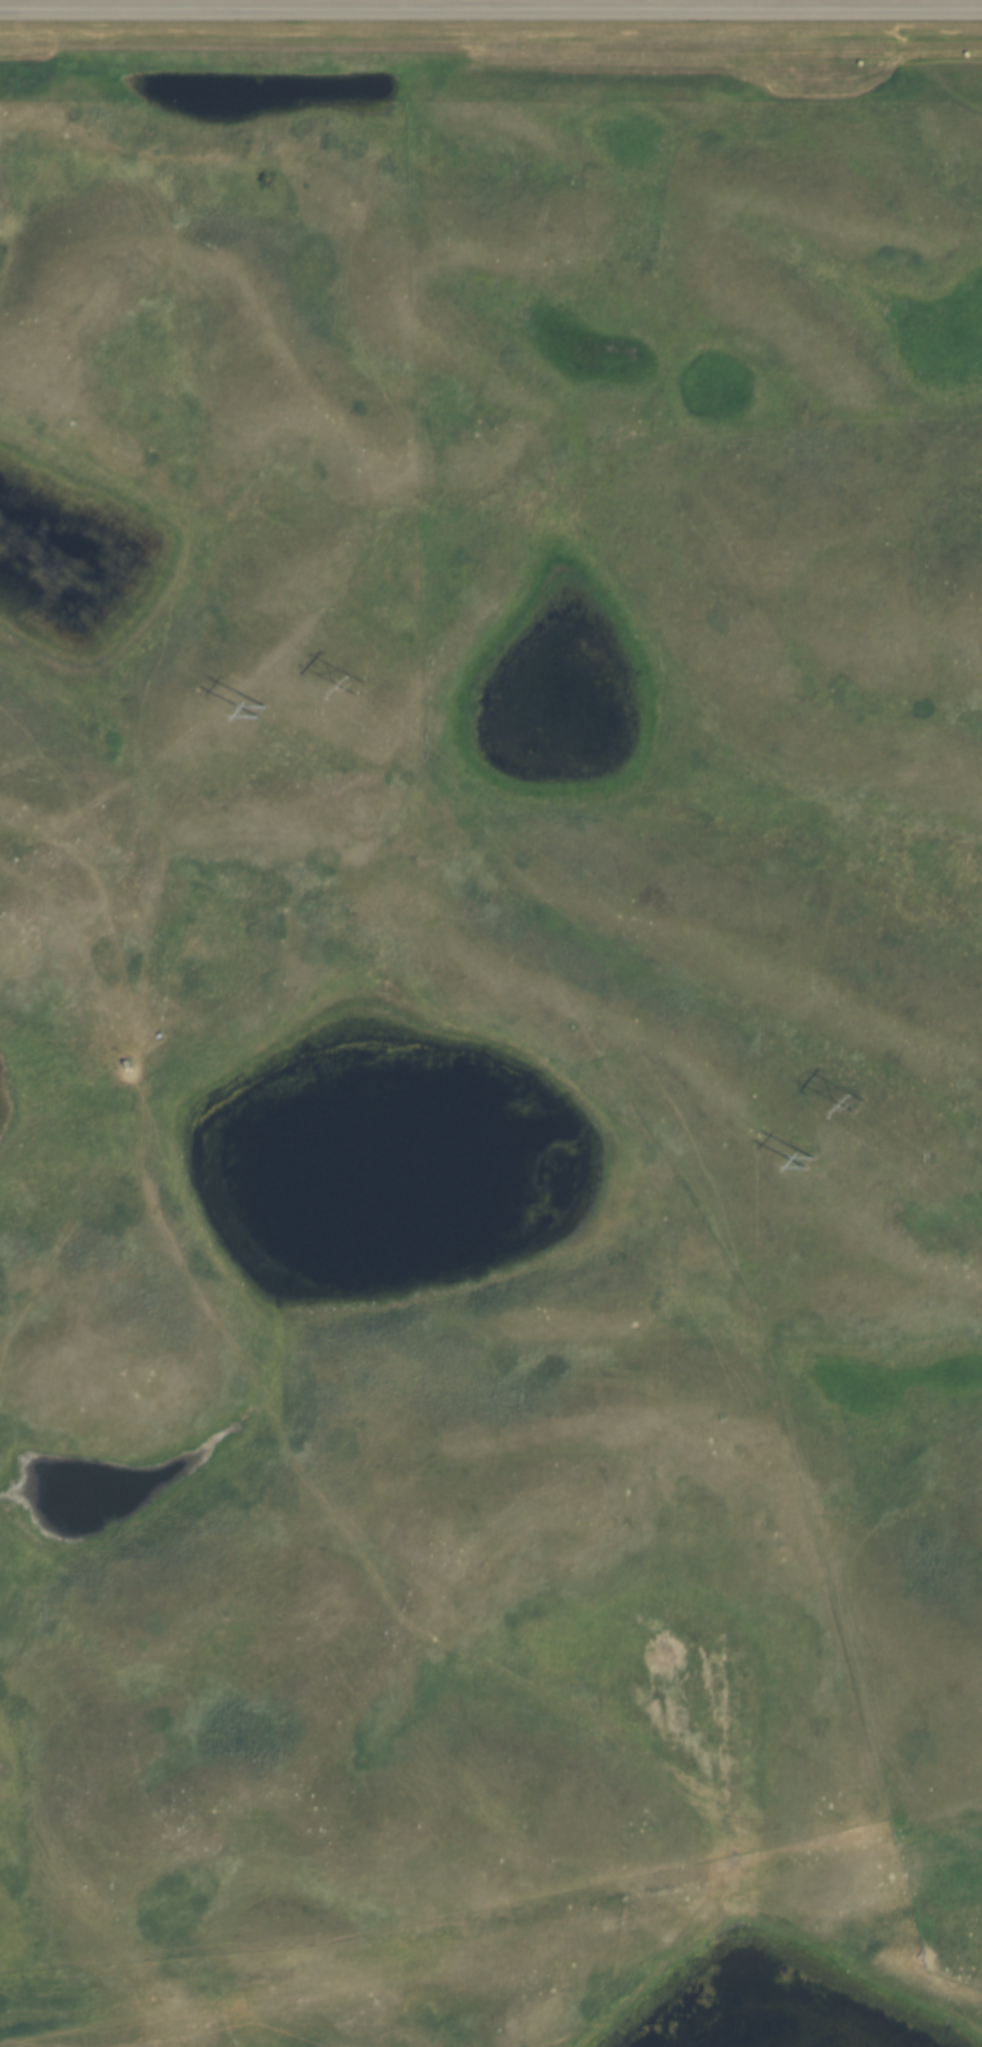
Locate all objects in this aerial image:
road: (73, 1)
road: (731, 4)
power tower: (355, 686)
road: (103, 901)
power tower: (856, 1104)

